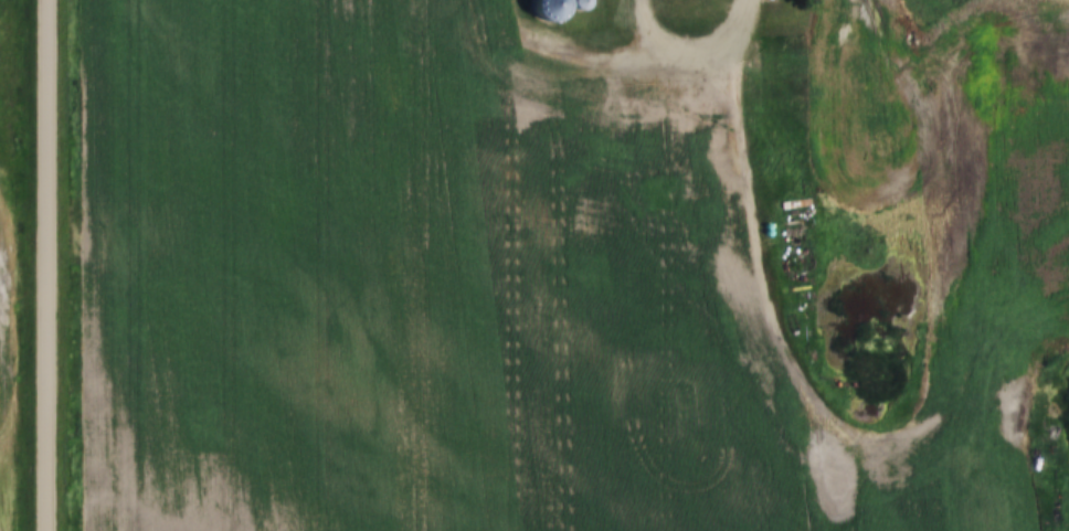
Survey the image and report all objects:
building: (549, 9)
building: (769, 77)
road: (44, 265)

